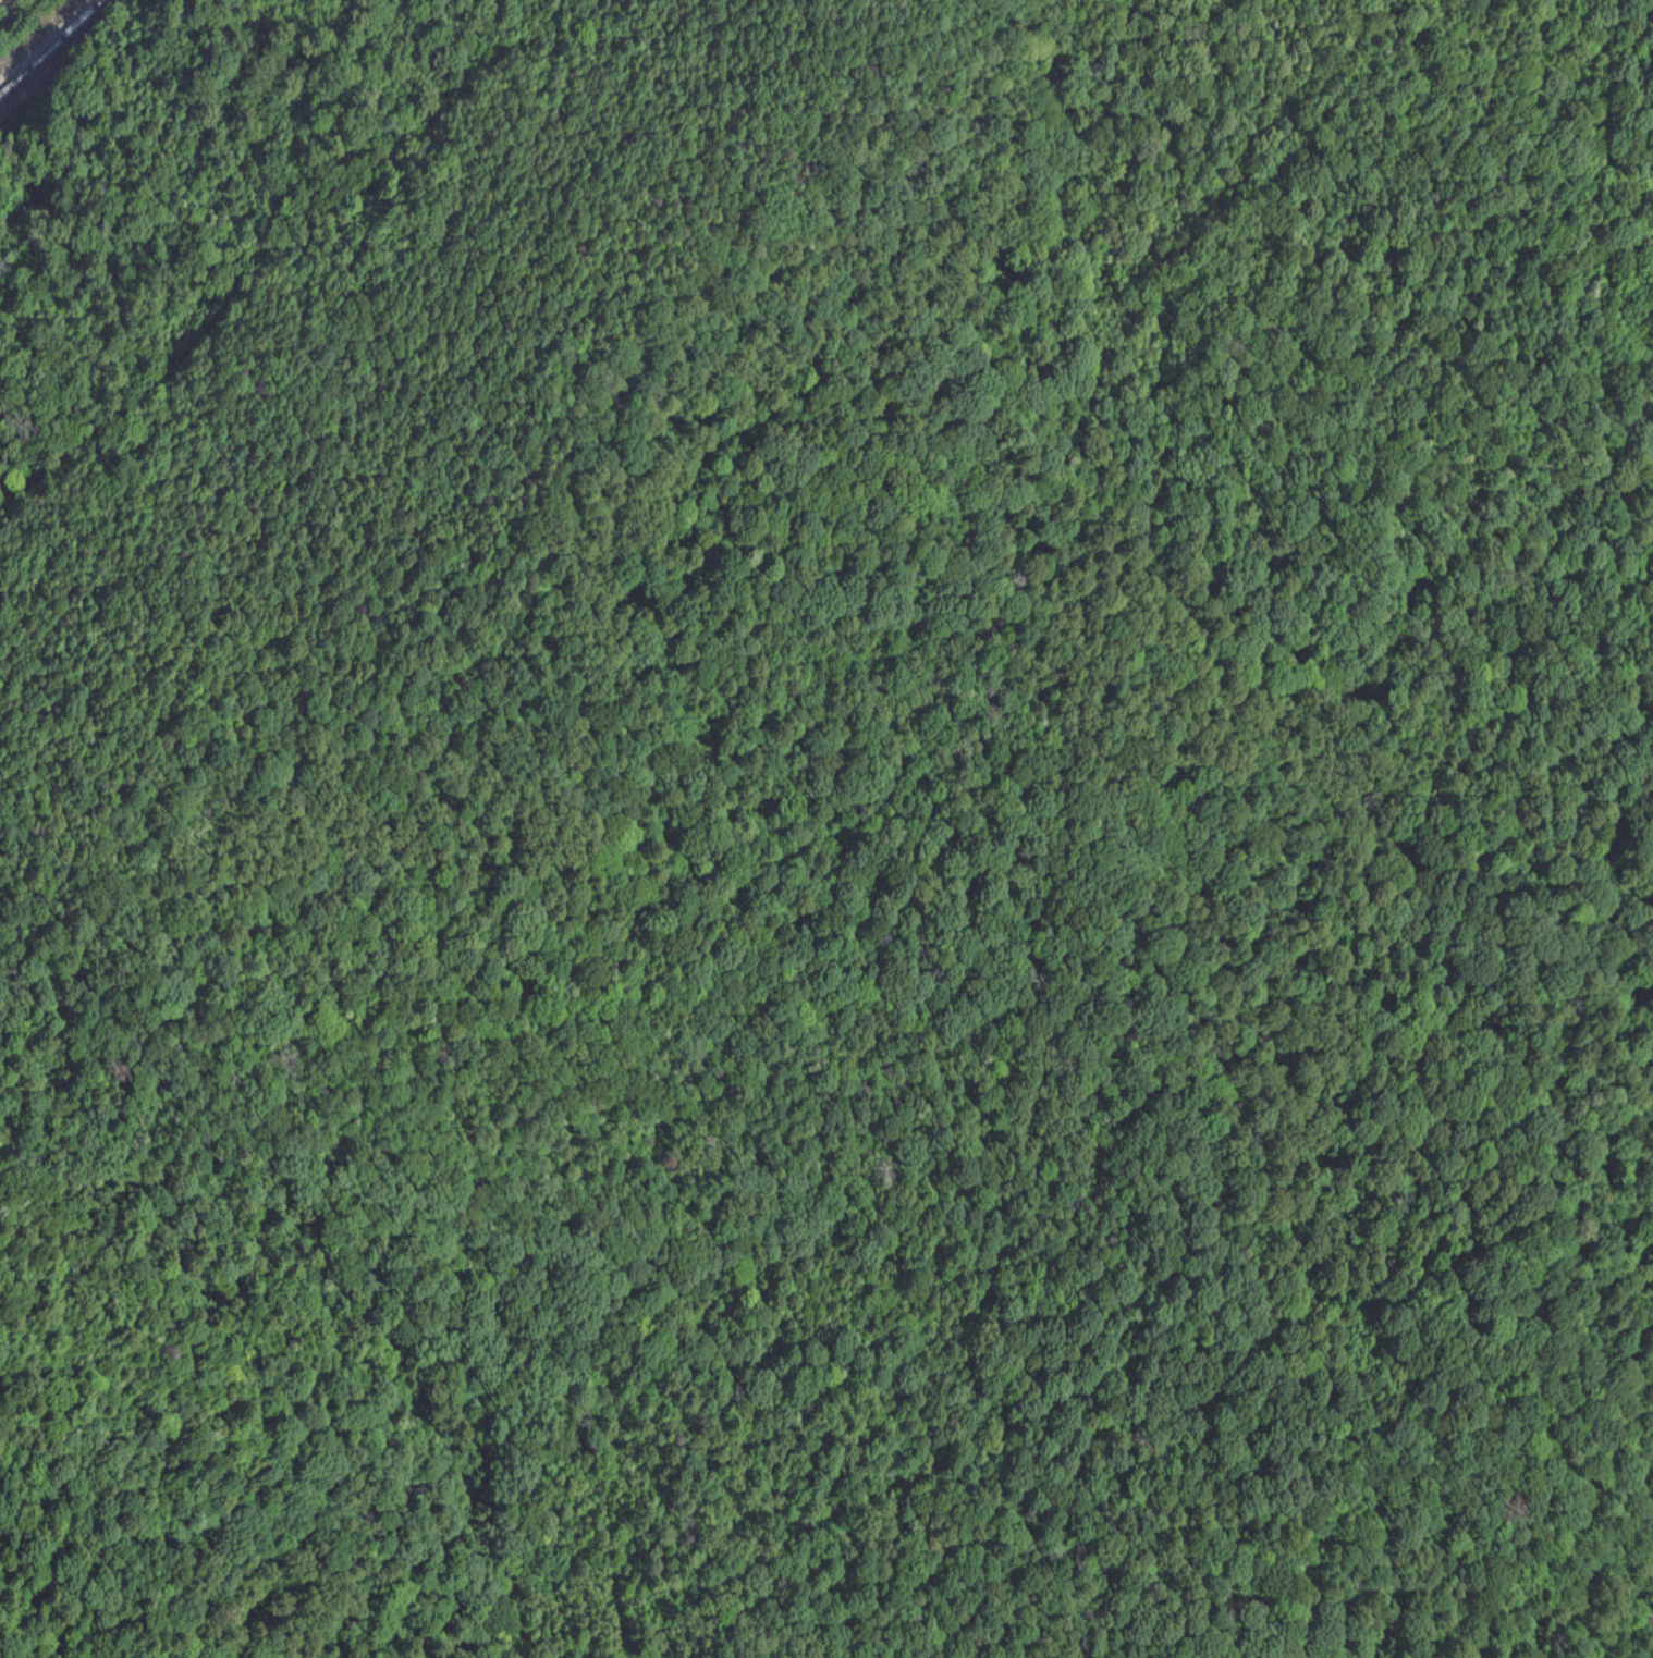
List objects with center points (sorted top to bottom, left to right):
railway: (53, 52)
railway: (61, 59)
road: (326, 1348)
road: (1244, 1464)

